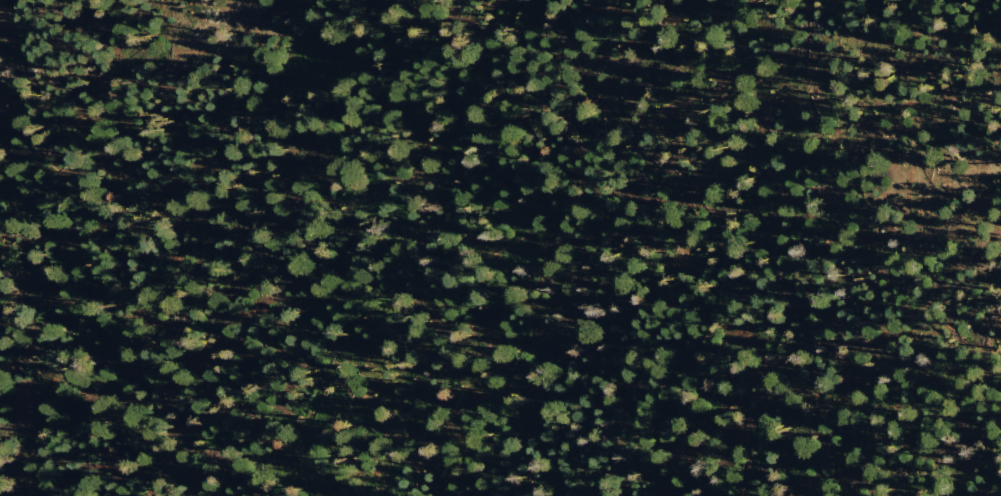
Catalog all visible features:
road: (303, 148)

